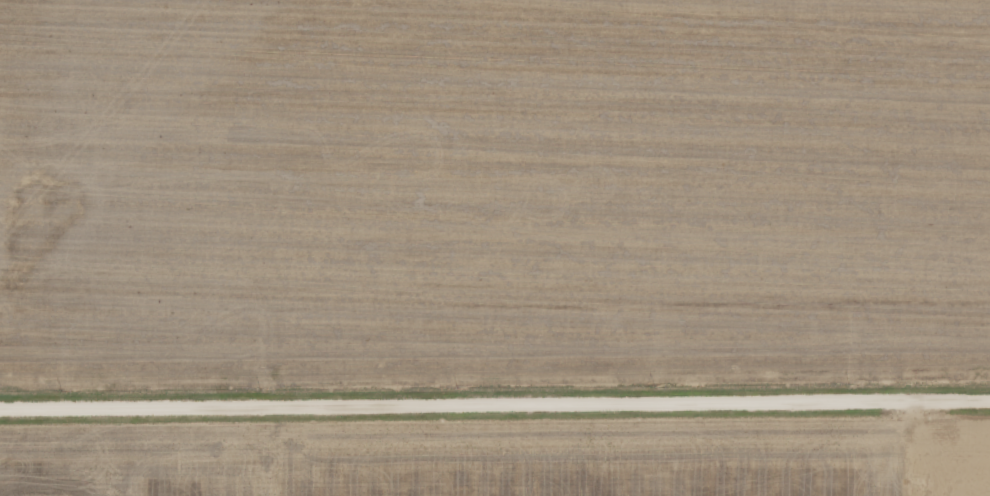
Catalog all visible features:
road: (495, 402)

